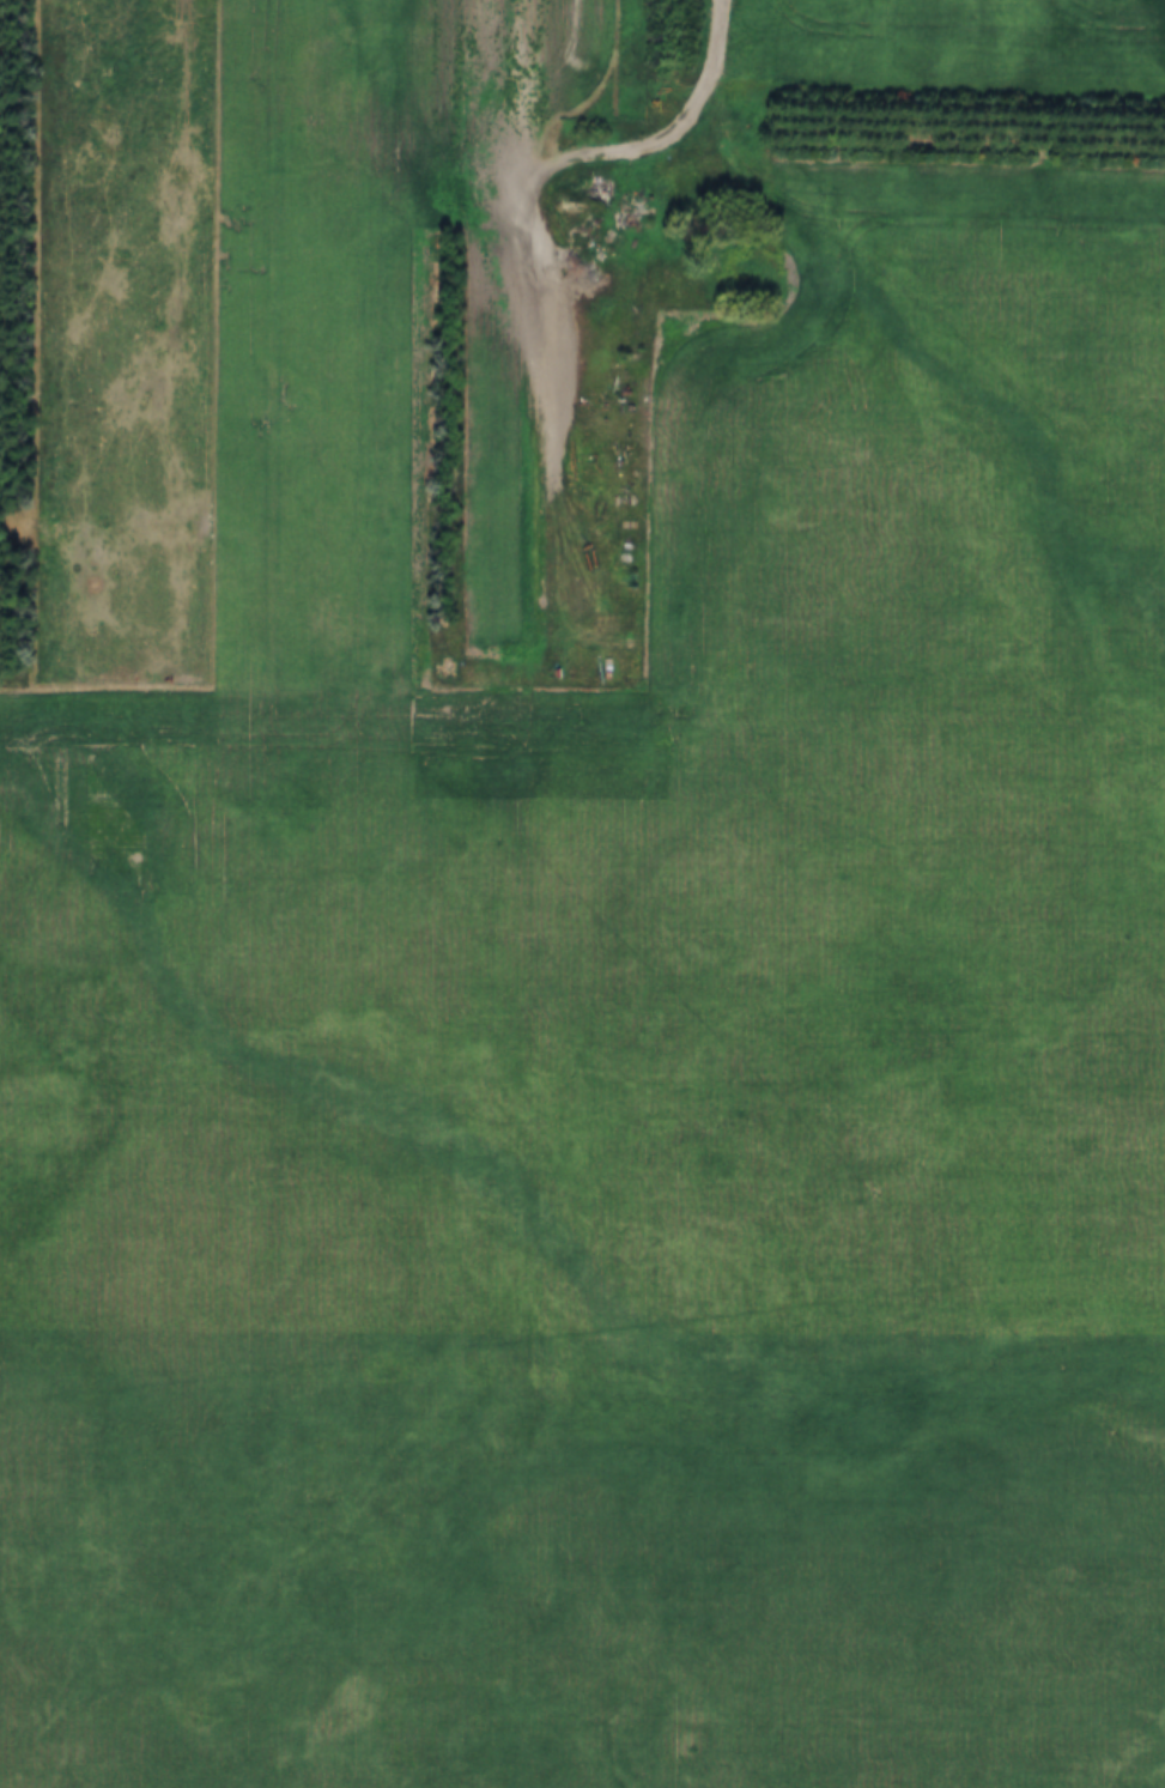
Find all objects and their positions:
road: (511, 343)

